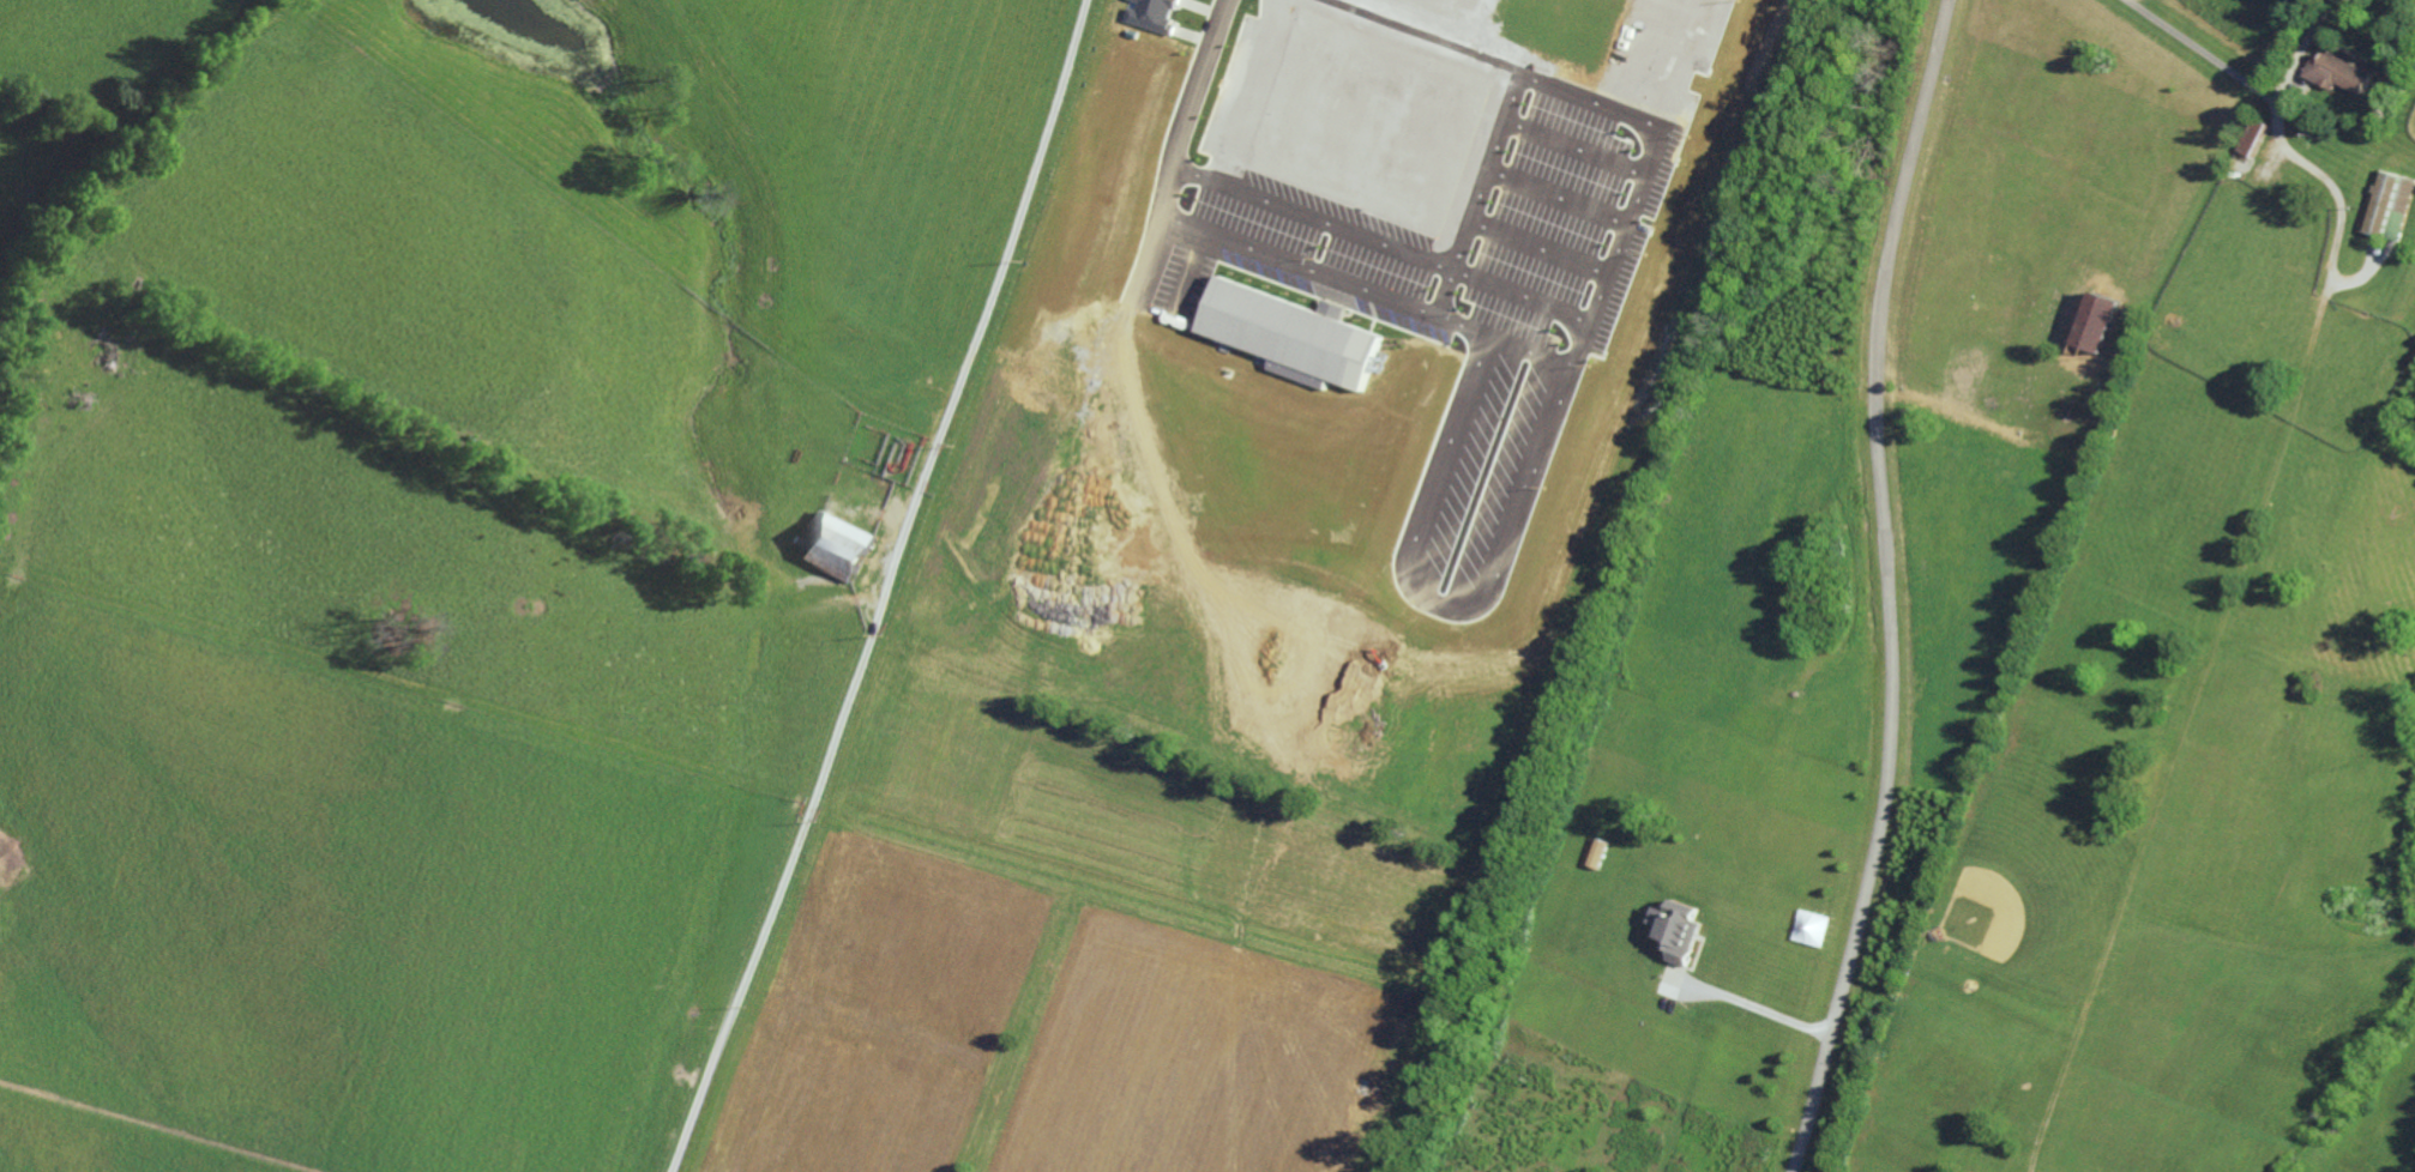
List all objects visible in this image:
building: (1150, 14)
building: (2335, 72)
road: (2247, 81)
building: (2251, 137)
road: (1180, 145)
building: (2389, 204)
road: (2336, 206)
road: (1327, 229)
road: (1184, 270)
building: (2095, 327)
building: (1287, 336)
road: (1926, 394)
road: (1517, 518)
building: (837, 546)
road: (883, 586)
road: (1885, 587)
building: (1675, 930)
road: (1746, 1003)

